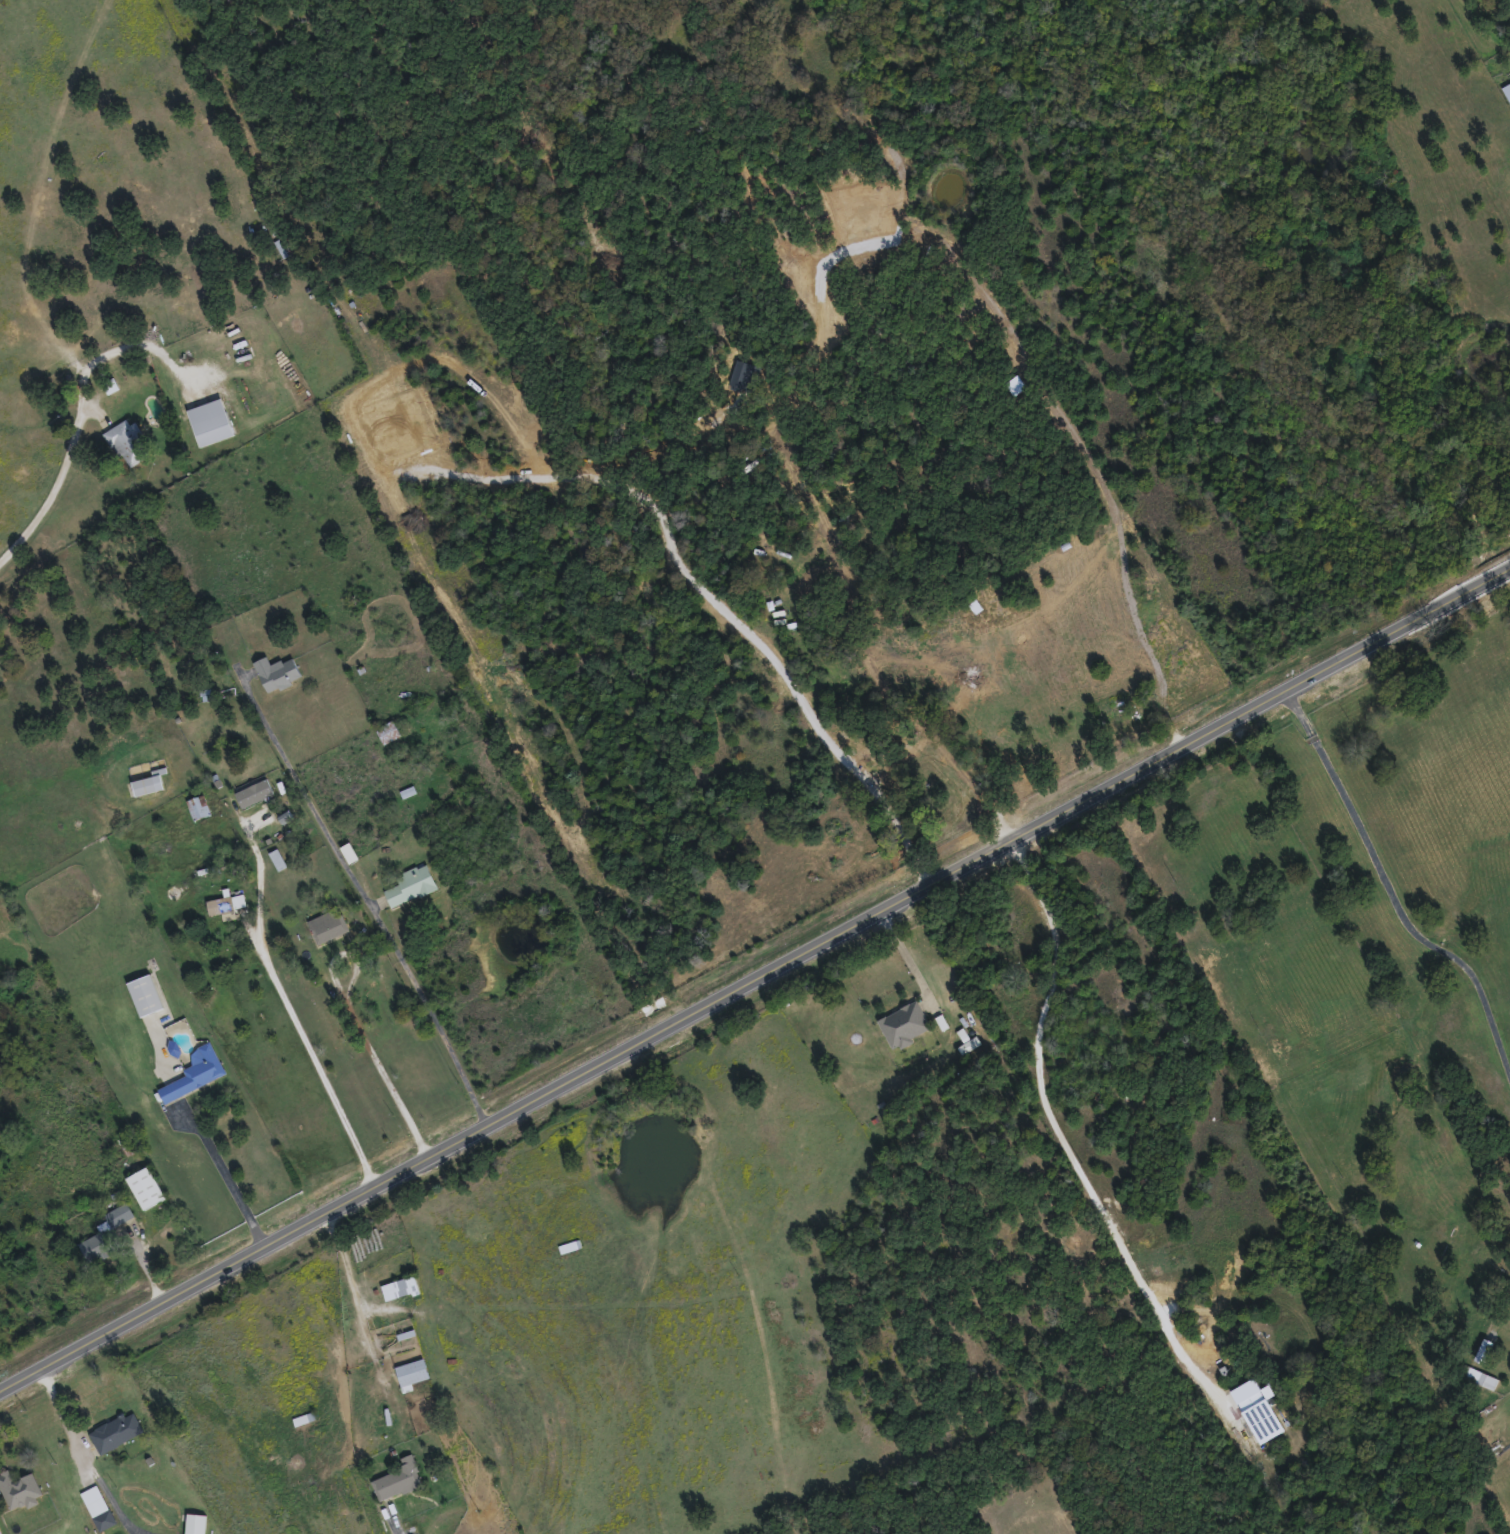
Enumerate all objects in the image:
building: (1507, 89)
road: (81, 419)
building: (210, 420)
building: (128, 441)
road: (719, 603)
building: (255, 624)
road: (44, 672)
building: (1110, 714)
building: (387, 731)
building: (147, 784)
building: (198, 806)
road: (1392, 882)
building: (411, 885)
road: (370, 899)
building: (220, 907)
building: (327, 925)
road: (907, 956)
road: (755, 979)
building: (145, 994)
road: (300, 1023)
building: (904, 1023)
road: (362, 1026)
building: (968, 1044)
building: (194, 1072)
road: (1056, 1117)
road: (227, 1176)
building: (145, 1187)
building: (105, 1234)
building: (569, 1246)
road: (355, 1278)
building: (399, 1287)
building: (411, 1372)
building: (1480, 1376)
building: (1263, 1420)
building: (115, 1430)
road: (86, 1458)
building: (398, 1478)
building: (19, 1489)
building: (98, 1507)

